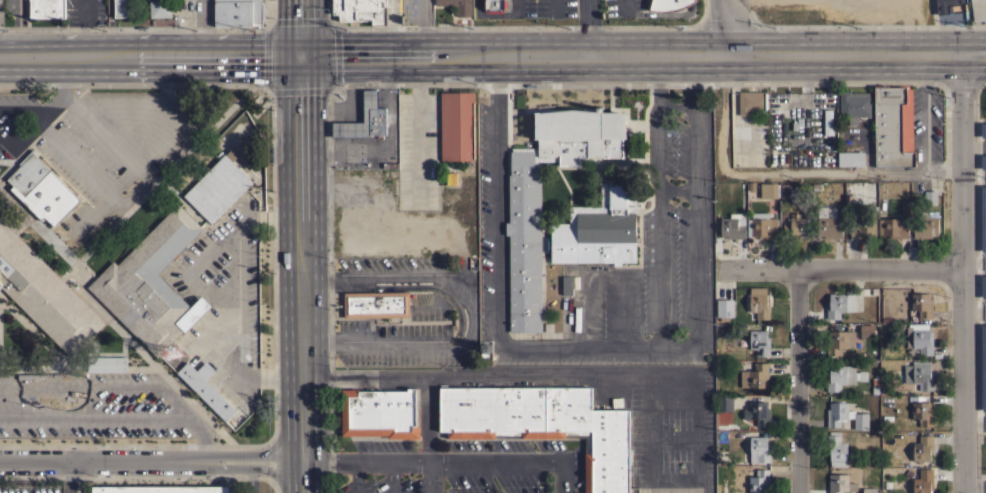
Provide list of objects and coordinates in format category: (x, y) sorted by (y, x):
building: (668, 4)
building: (457, 6)
building: (494, 6)
parking lot: (580, 6)
building: (949, 6)
road: (517, 7)
road: (626, 7)
building: (46, 8)
building: (122, 8)
building: (160, 8)
road: (554, 8)
building: (360, 10)
building: (978, 10)
building: (238, 12)
road: (663, 14)
road: (491, 15)
road: (418, 28)
road: (589, 28)
road: (726, 28)
road: (205, 29)
road: (301, 29)
road: (493, 57)
traffic signals: (302, 58)
road: (494, 79)
road: (689, 84)
road: (660, 86)
building: (750, 101)
road: (675, 104)
building: (854, 105)
road: (47, 110)
road: (23, 111)
road: (925, 113)
building: (364, 119)
building: (827, 122)
building: (456, 125)
building: (892, 126)
road: (419, 127)
road: (42, 132)
road: (110, 139)
parking lot: (97, 146)
road: (869, 147)
building: (850, 159)
road: (7, 161)
building: (388, 161)
road: (77, 162)
road: (787, 173)
road: (164, 174)
building: (450, 178)
building: (218, 186)
building: (41, 189)
road: (676, 190)
building: (768, 190)
road: (132, 191)
building: (785, 191)
building: (930, 197)
building: (524, 201)
road: (189, 203)
road: (92, 214)
building: (828, 223)
parking lot: (595, 225)
building: (761, 225)
building: (926, 225)
building: (733, 226)
building: (794, 226)
building: (893, 227)
building: (599, 228)
road: (694, 228)
building: (862, 228)
road: (659, 231)
road: (62, 237)
road: (50, 238)
road: (216, 245)
road: (302, 256)
road: (494, 264)
road: (844, 269)
road: (965, 273)
road: (599, 274)
building: (151, 284)
building: (567, 285)
road: (401, 287)
parking lot: (221, 289)
building: (44, 294)
building: (758, 302)
building: (376, 304)
building: (839, 304)
building: (921, 304)
road: (471, 308)
building: (724, 308)
building: (885, 320)
road: (214, 325)
building: (866, 330)
road: (238, 332)
road: (35, 334)
building: (919, 338)
building: (839, 341)
building: (759, 342)
road: (637, 346)
road: (103, 354)
road: (56, 360)
building: (107, 364)
road: (154, 366)
road: (78, 368)
building: (915, 375)
building: (754, 376)
building: (843, 376)
road: (59, 378)
road: (505, 378)
road: (800, 381)
road: (81, 387)
building: (206, 389)
building: (874, 390)
building: (724, 402)
parking lot: (95, 407)
road: (184, 409)
building: (757, 412)
building: (379, 413)
building: (922, 413)
building: (844, 415)
road: (96, 417)
building: (886, 417)
building: (544, 424)
road: (432, 435)
road: (707, 435)
road: (206, 445)
building: (922, 448)
building: (759, 449)
building: (836, 449)
road: (254, 454)
road: (303, 456)
road: (103, 459)
road: (432, 459)
road: (253, 467)
road: (302, 475)
road: (356, 476)
road: (395, 476)
road: (562, 476)
road: (250, 480)
building: (759, 481)
building: (923, 481)
building: (840, 483)
road: (975, 484)
building: (160, 489)
building: (869, 490)

